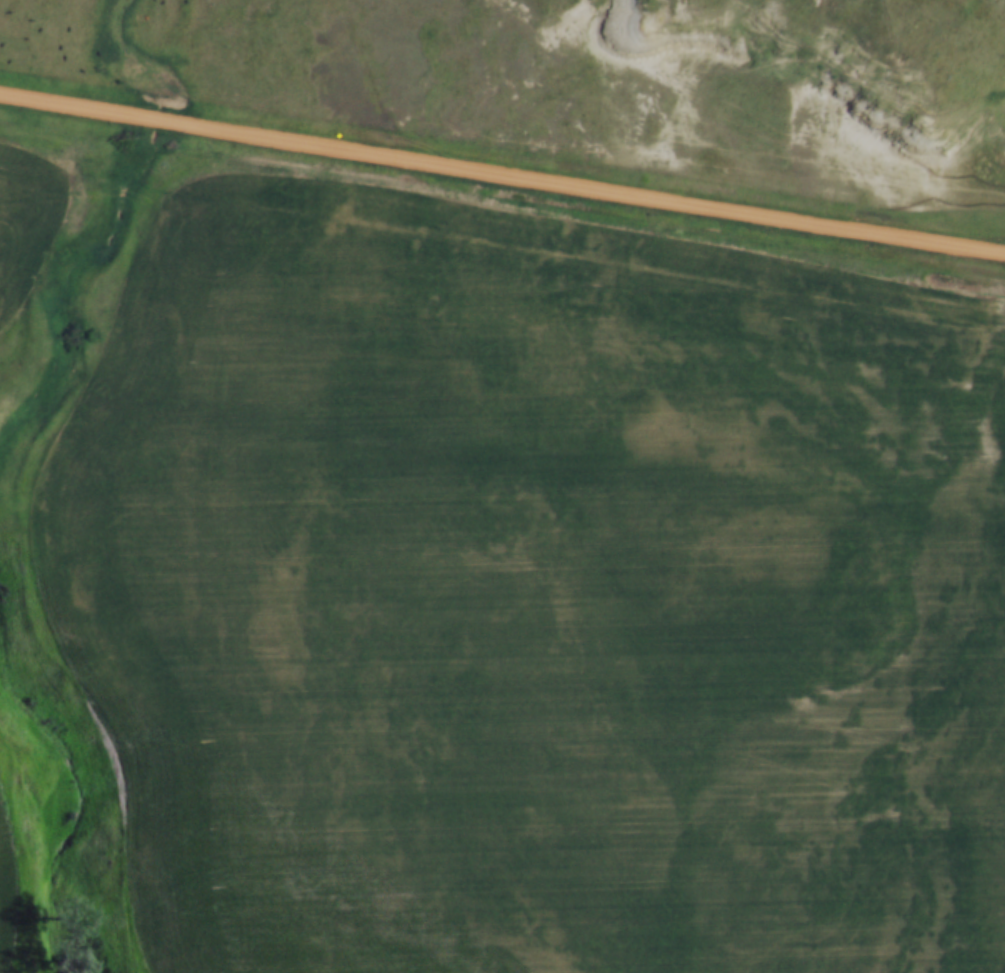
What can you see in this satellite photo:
road: (502, 170)

